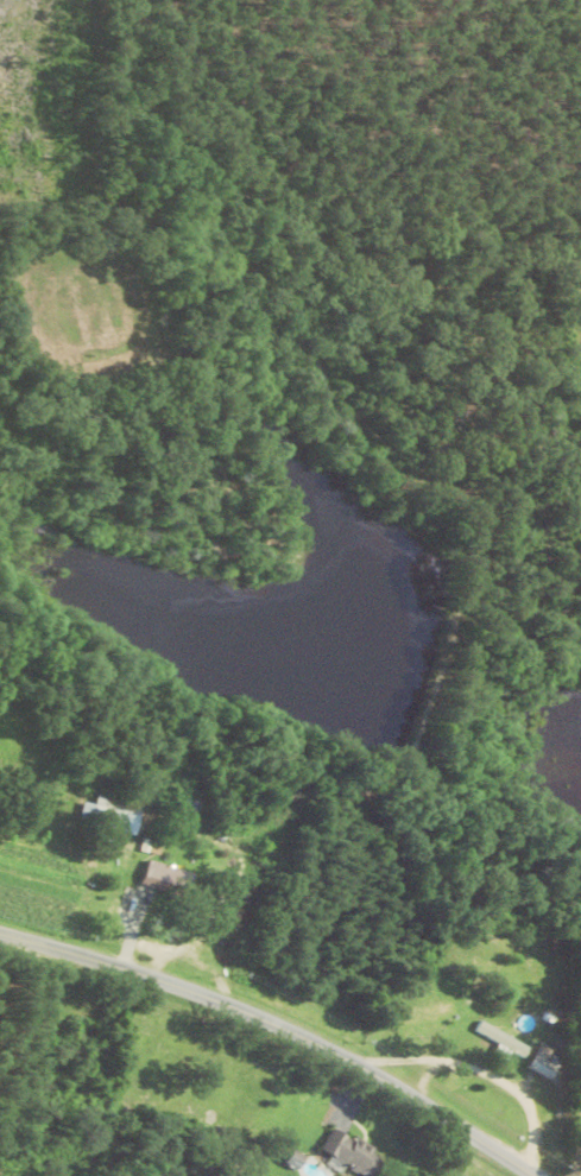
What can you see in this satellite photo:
building: (106, 816)
building: (163, 881)
road: (280, 1031)
building: (497, 1041)
building: (539, 1066)
building: (347, 1153)

